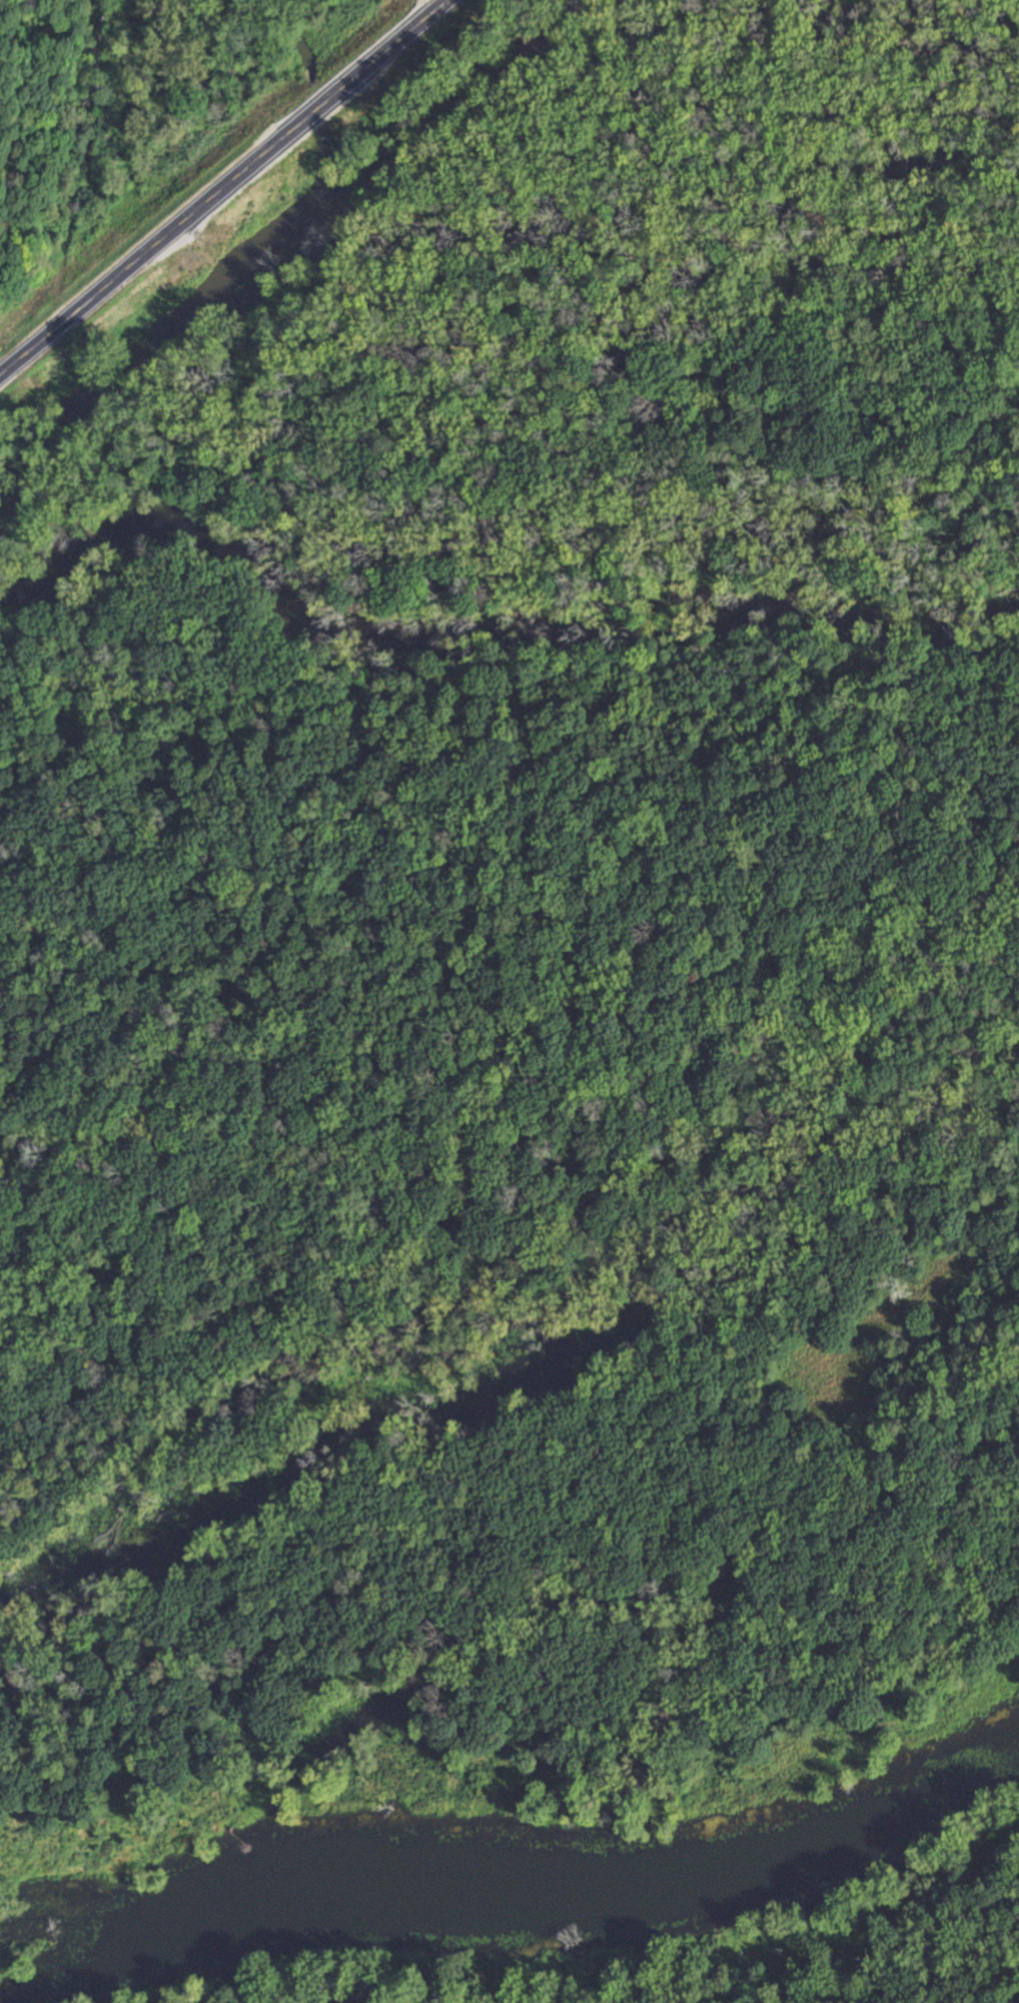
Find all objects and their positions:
road: (228, 185)

